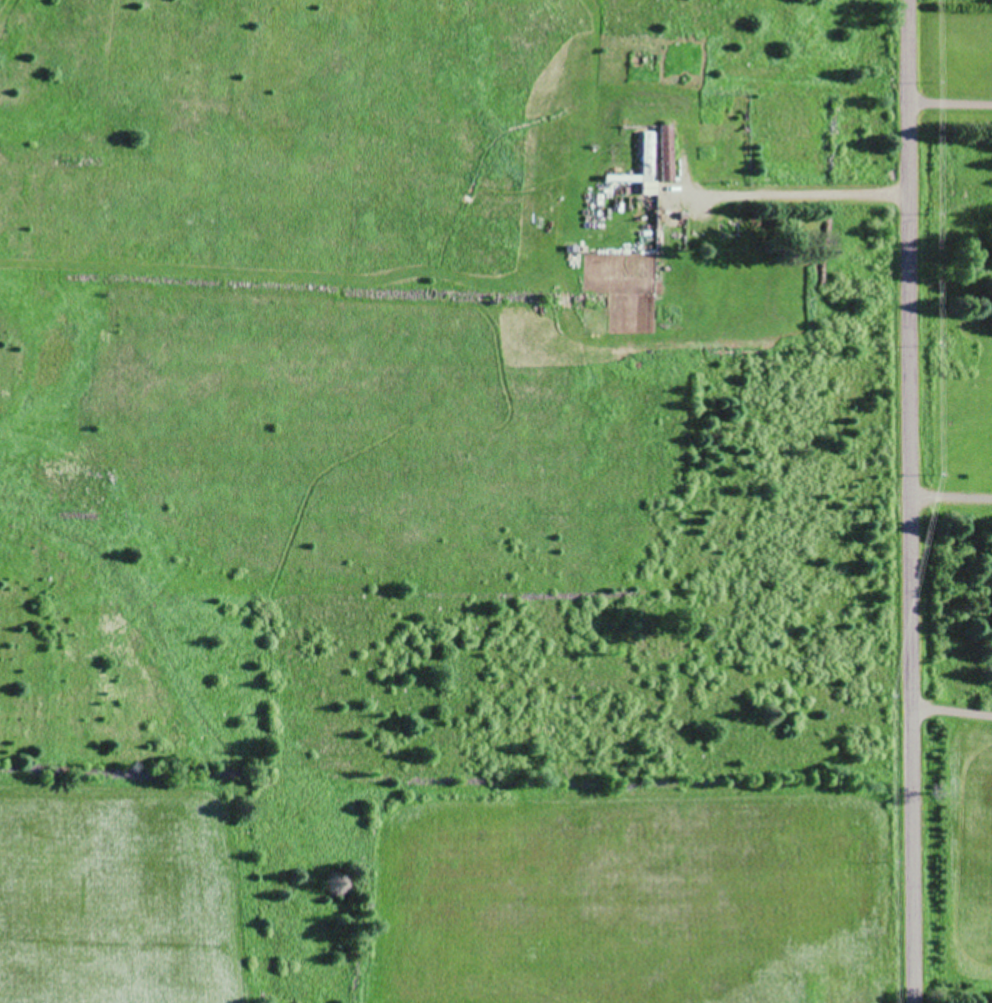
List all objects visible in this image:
building: (666, 150)
building: (648, 153)
road: (909, 501)

